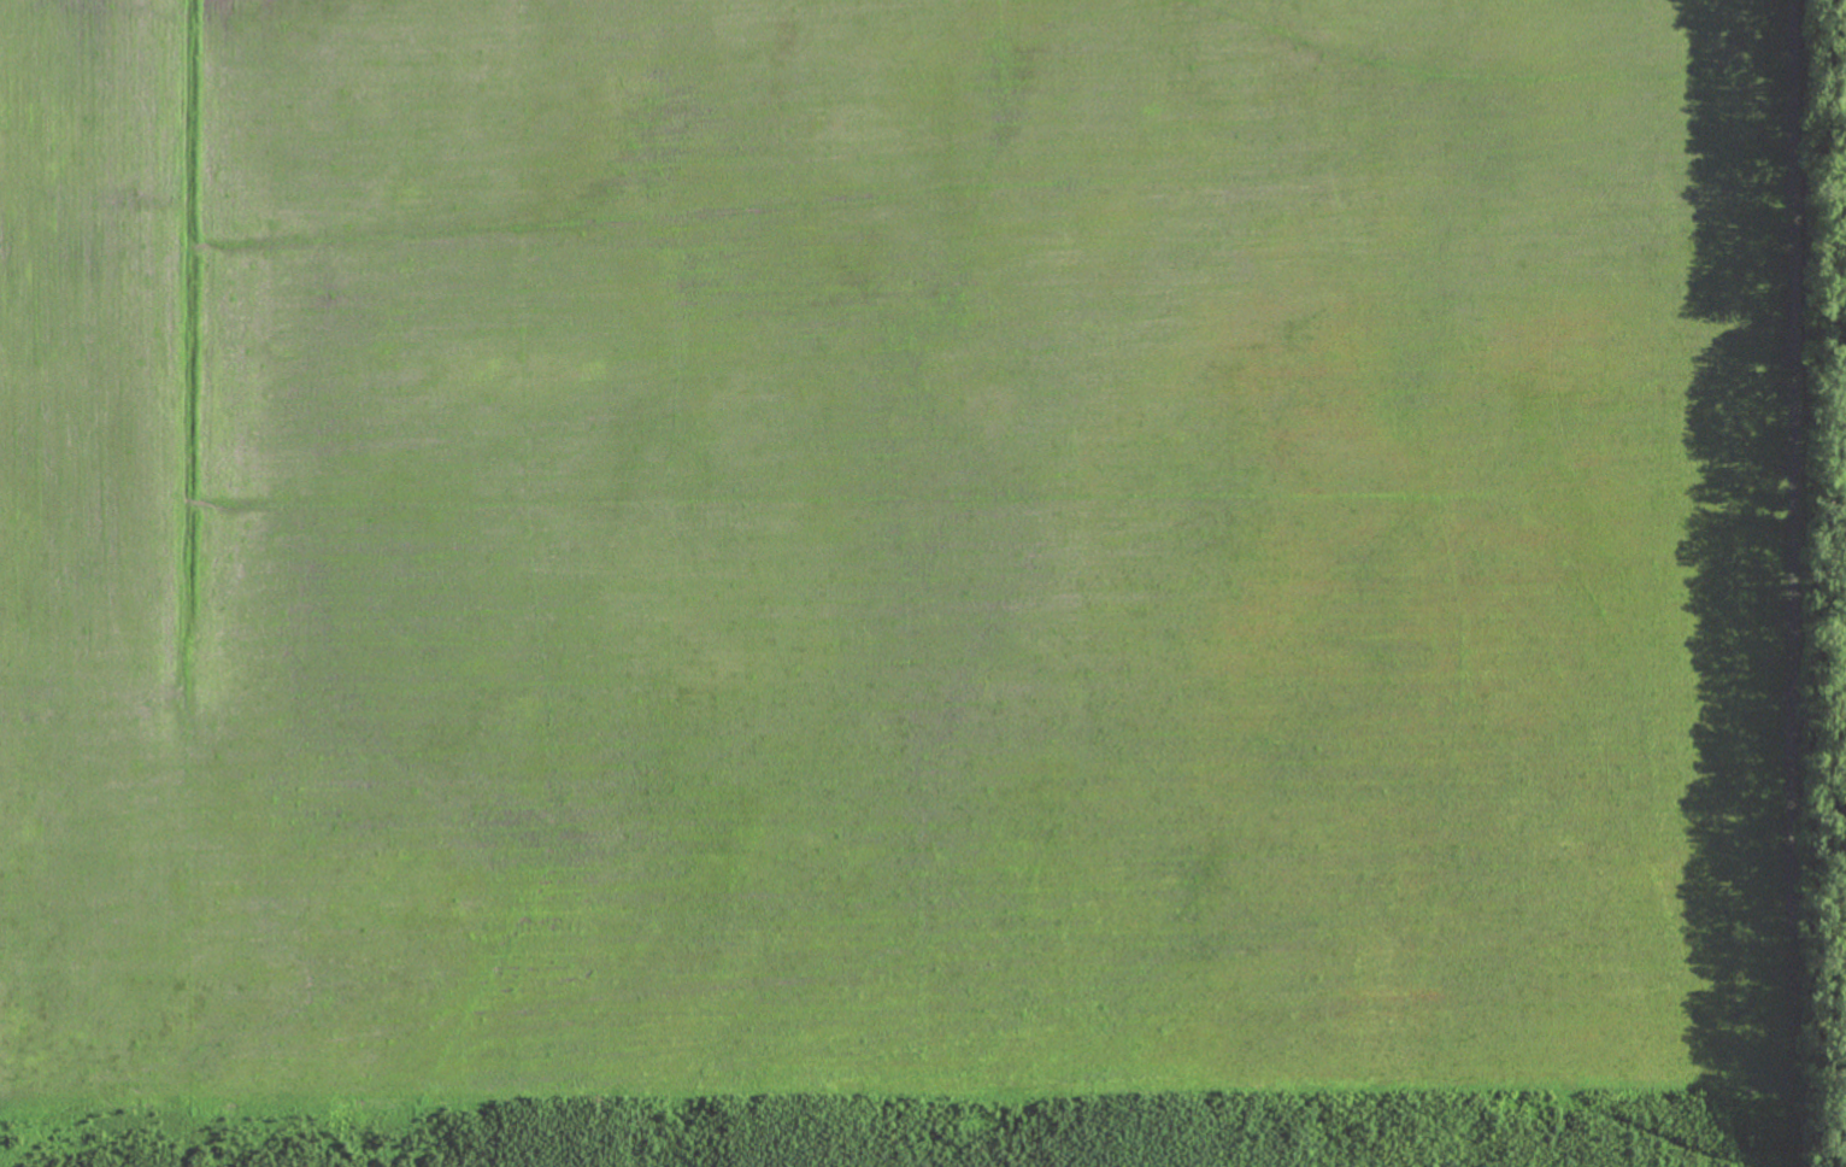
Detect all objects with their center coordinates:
park: (1824, 596)

